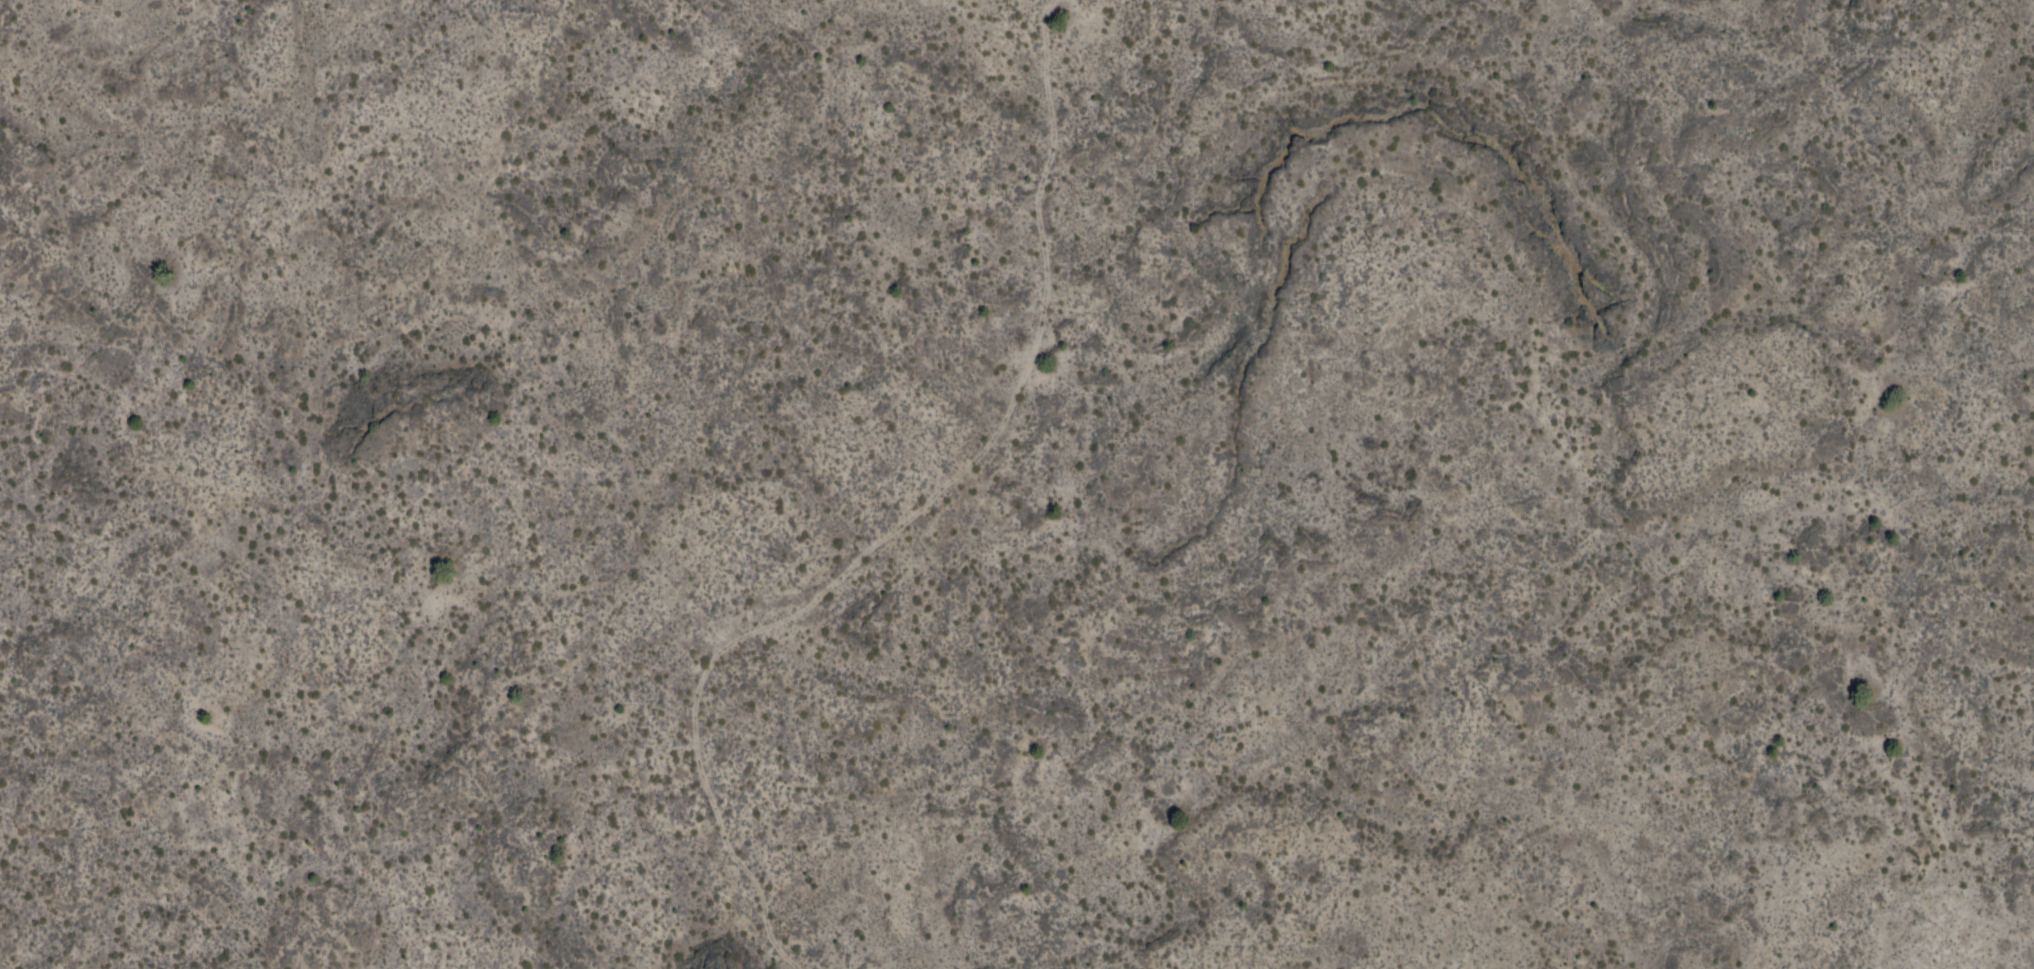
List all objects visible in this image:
road: (906, 522)

